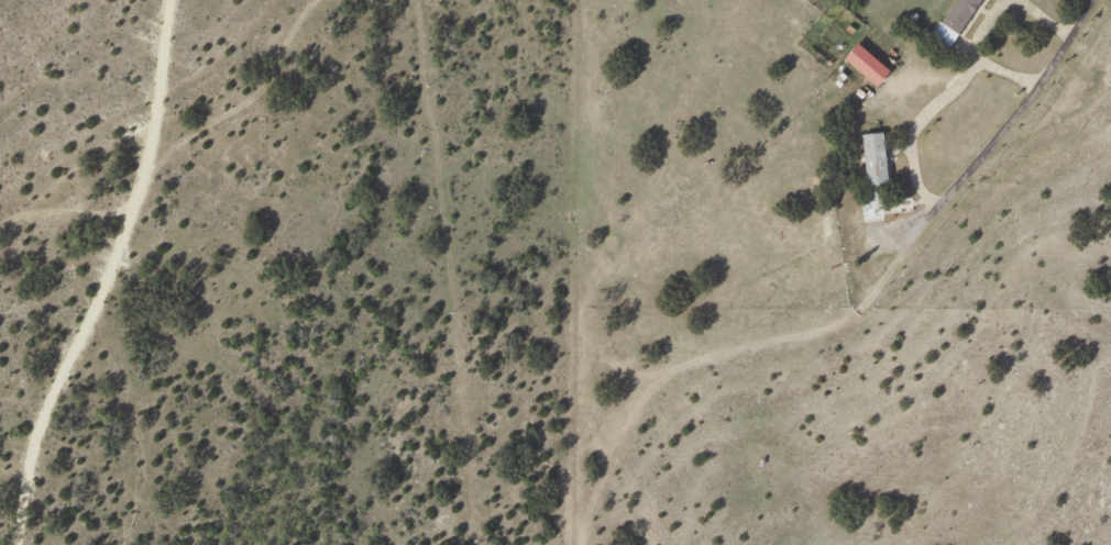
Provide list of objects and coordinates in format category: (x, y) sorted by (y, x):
building: (956, 21)
building: (868, 64)
building: (875, 174)

